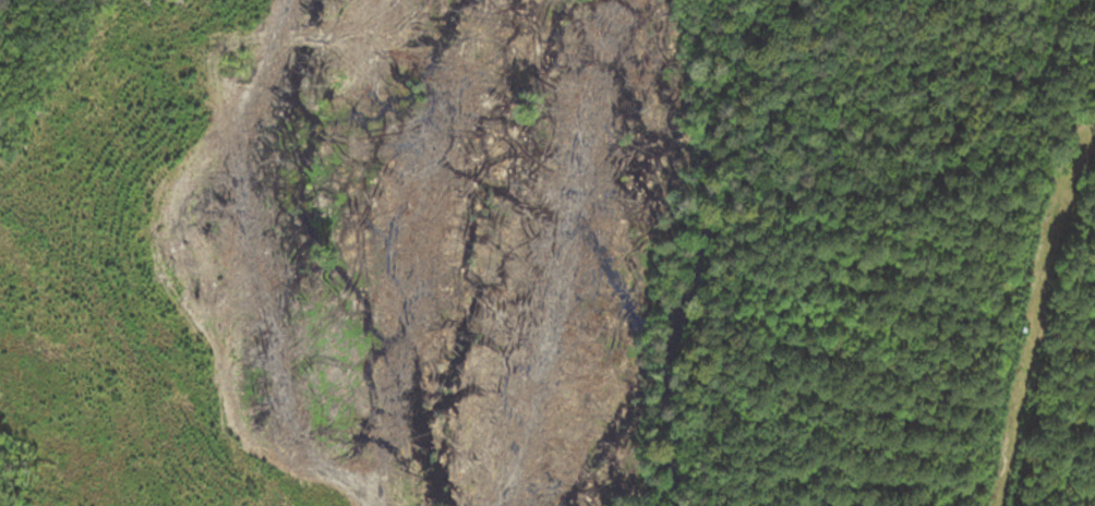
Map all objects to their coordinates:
road: (1027, 251)

